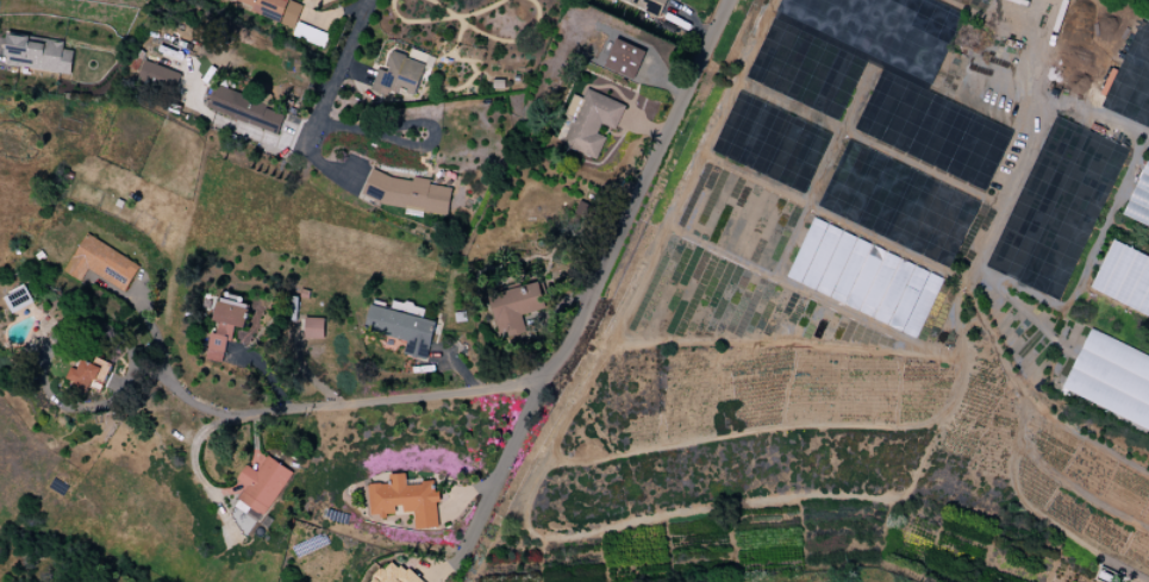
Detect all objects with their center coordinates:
building: (649, 6)
building: (273, 8)
building: (37, 54)
building: (418, 56)
building: (624, 60)
building: (398, 75)
building: (158, 76)
road: (337, 79)
road: (1047, 100)
road: (200, 111)
building: (246, 111)
building: (589, 121)
road: (263, 138)
building: (407, 193)
building: (1139, 199)
building: (863, 277)
building: (1124, 279)
building: (18, 299)
building: (514, 308)
building: (225, 325)
building: (314, 328)
building: (401, 330)
road: (554, 365)
building: (88, 376)
building: (1111, 381)
road: (193, 461)
road: (502, 462)
building: (257, 493)
building: (405, 500)
building: (394, 574)

